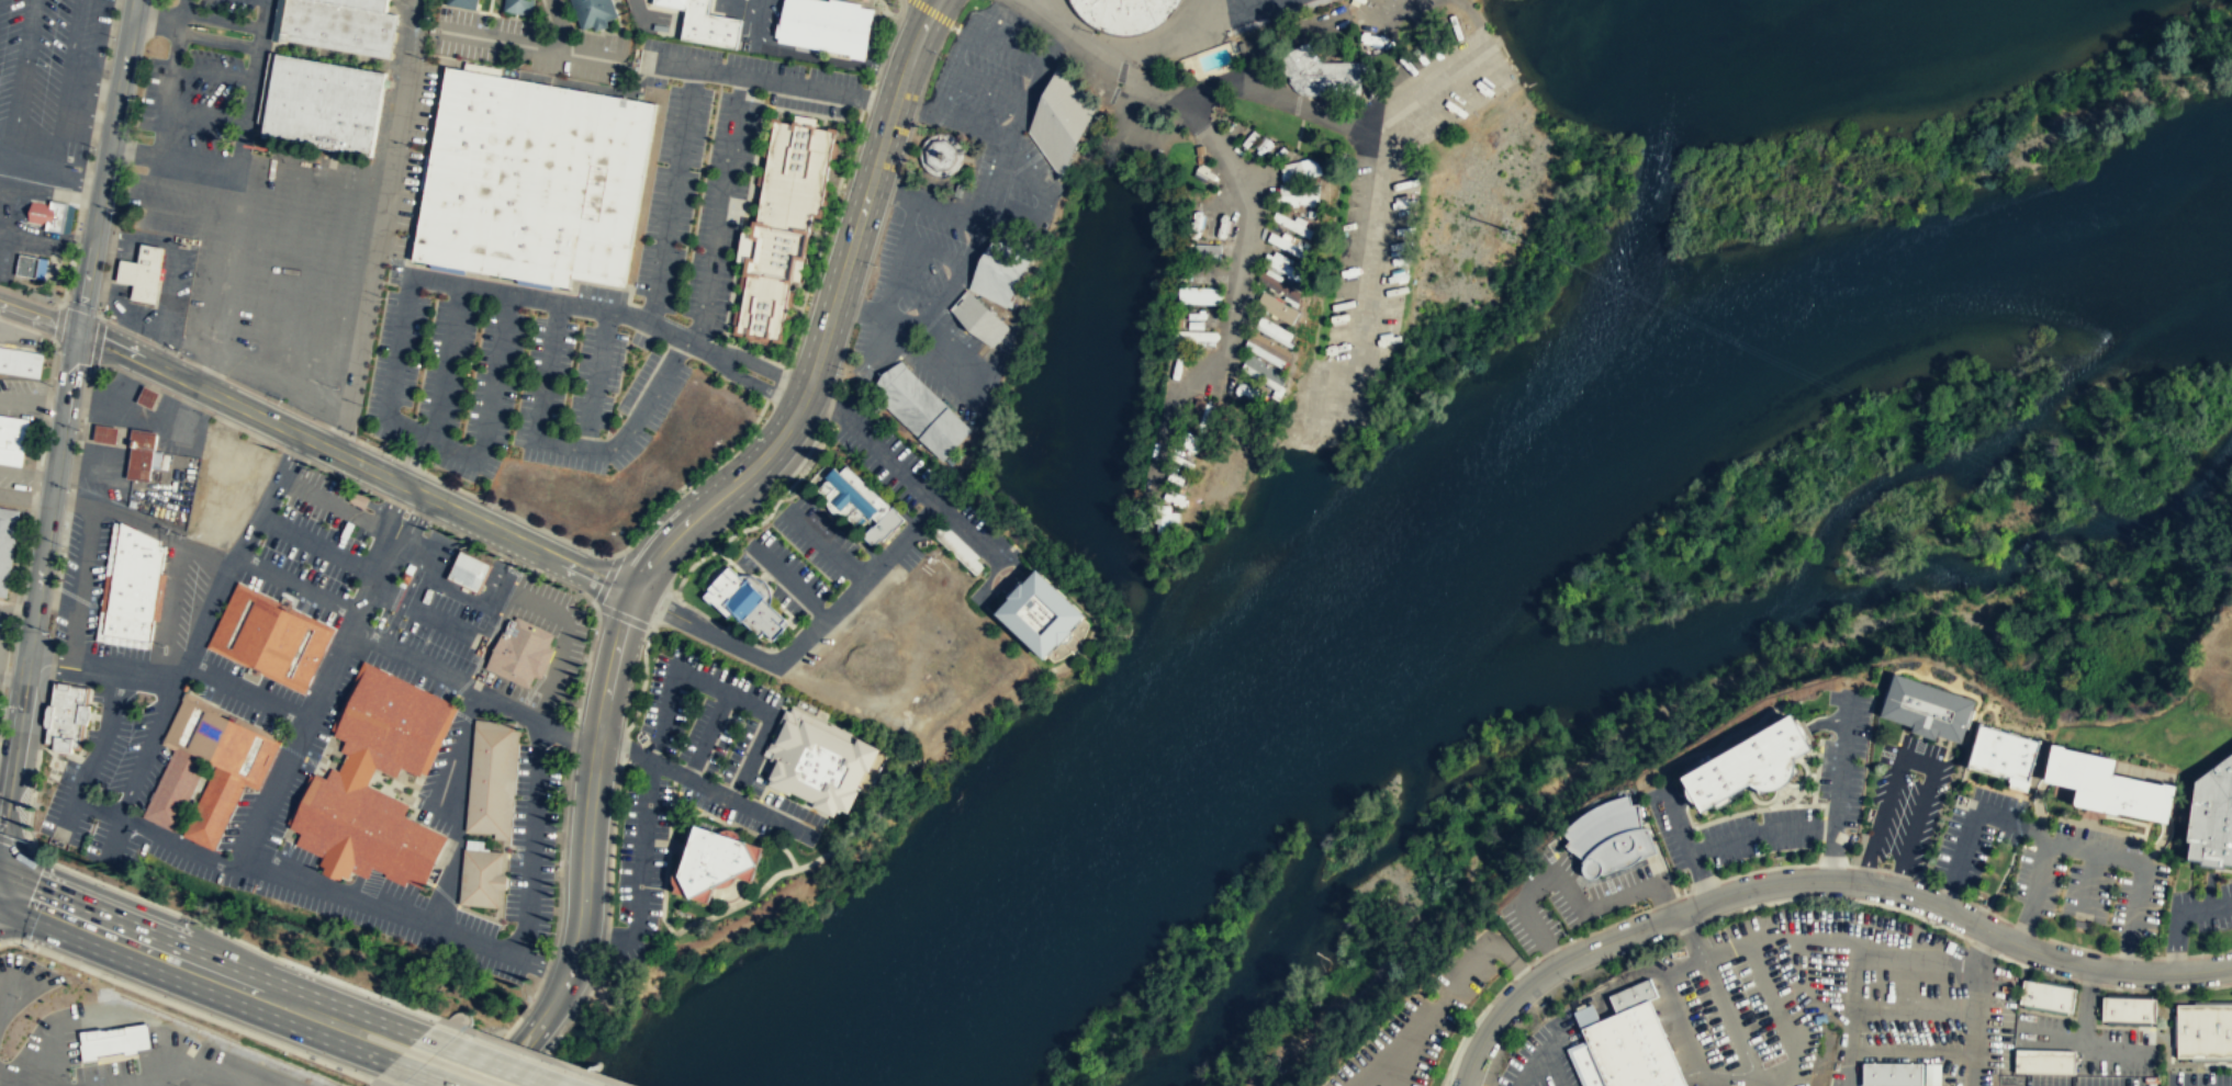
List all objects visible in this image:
road: (862, 1)
building: (462, 2)
building: (361, 4)
road: (476, 5)
road: (457, 7)
road: (490, 7)
building: (518, 7)
road: (546, 11)
building: (593, 11)
road: (482, 12)
road: (930, 13)
building: (1123, 13)
road: (199, 14)
road: (518, 18)
building: (706, 23)
road: (560, 25)
road: (560, 25)
building: (828, 25)
building: (339, 27)
road: (894, 27)
road: (1014, 27)
road: (178, 30)
road: (592, 31)
road: (618, 34)
street lamp: (112, 36)
road: (194, 36)
road: (527, 46)
road: (300, 56)
street lamp: (722, 59)
road: (879, 65)
road: (270, 66)
road: (696, 68)
road: (24, 71)
road: (213, 73)
road: (67, 75)
street lamp: (805, 75)
building: (1321, 76)
road: (871, 80)
road: (254, 84)
parking lot: (49, 86)
street lamp: (650, 89)
parking lot: (203, 90)
road: (865, 99)
street lamp: (133, 101)
road: (872, 101)
building: (324, 103)
road: (166, 106)
road: (205, 114)
road: (860, 116)
building: (1061, 121)
road: (1030, 122)
road: (7, 140)
building: (1246, 142)
road: (34, 146)
street lamp: (93, 146)
road: (134, 151)
street lamp: (705, 155)
building: (941, 156)
road: (729, 158)
road: (54, 162)
road: (197, 162)
road: (1025, 162)
road: (106, 165)
road: (1000, 169)
road: (750, 177)
road: (77, 180)
building: (532, 180)
building: (1299, 183)
road: (673, 196)
road: (1002, 204)
street lamp: (115, 212)
building: (48, 214)
building: (783, 222)
building: (1292, 225)
parking lot: (22, 226)
road: (378, 227)
power tower: (1510, 230)
road: (112, 241)
road: (819, 242)
building: (1287, 246)
building: (1207, 251)
street lamp: (687, 256)
street lamp: (874, 263)
road: (427, 265)
building: (25, 267)
building: (1286, 268)
building: (1001, 269)
building: (142, 272)
road: (974, 273)
building: (1280, 289)
road: (484, 290)
road: (103, 294)
building: (1199, 295)
road: (593, 306)
road: (81, 308)
street lamp: (99, 308)
building: (1276, 308)
road: (38, 315)
building: (1199, 317)
building: (979, 319)
road: (673, 323)
road: (828, 323)
road: (124, 328)
building: (1274, 332)
road: (670, 333)
road: (919, 335)
road: (144, 338)
building: (1192, 339)
road: (761, 342)
road: (165, 348)
road: (747, 348)
street lamp: (181, 350)
building: (1267, 350)
road: (188, 359)
building: (20, 362)
road: (446, 362)
building: (1175, 366)
road: (98, 367)
road: (763, 367)
road: (212, 370)
road: (127, 374)
street lamp: (419, 374)
street lamp: (843, 374)
building: (1266, 375)
road: (596, 378)
road: (838, 382)
road: (773, 383)
road: (755, 385)
street lamp: (337, 387)
road: (159, 388)
building: (152, 397)
street lamp: (282, 398)
road: (87, 400)
road: (277, 401)
road: (190, 404)
road: (830, 407)
building: (922, 409)
road: (242, 429)
road: (340, 431)
street lamp: (356, 432)
building: (105, 434)
road: (81, 435)
building: (12, 439)
road: (441, 444)
road: (569, 444)
road: (373, 448)
building: (141, 453)
street lamp: (394, 453)
road: (293, 454)
road: (413, 459)
road: (355, 461)
road: (407, 464)
road: (899, 467)
road: (76, 468)
road: (693, 477)
road: (344, 478)
road: (72, 488)
parking lot: (923, 490)
street lamp: (683, 491)
road: (70, 501)
building: (860, 501)
street lamp: (496, 502)
road: (338, 506)
street lamp: (764, 506)
road: (405, 508)
road: (823, 508)
road: (519, 517)
road: (765, 518)
street lamp: (428, 523)
river: (1453, 531)
road: (470, 539)
building: (7, 543)
road: (823, 543)
road: (318, 544)
building: (957, 546)
parking lot: (957, 546)
road: (64, 548)
road: (244, 548)
street lamp: (592, 548)
road: (986, 548)
road: (1009, 550)
road: (1001, 557)
road: (511, 564)
street lamp: (523, 568)
flagpole: (15, 569)
building: (469, 570)
road: (771, 570)
building: (406, 576)
road: (1018, 577)
road: (37, 578)
road: (556, 578)
road: (607, 578)
road: (762, 579)
road: (786, 579)
road: (1007, 580)
building: (134, 584)
road: (299, 586)
road: (756, 586)
road: (80, 599)
road: (103, 602)
building: (744, 603)
road: (361, 606)
road: (663, 610)
building: (1038, 613)
road: (624, 616)
road: (730, 622)
street lamp: (591, 626)
road: (720, 627)
street lamp: (47, 631)
building: (270, 636)
road: (490, 636)
road: (209, 645)
building: (519, 651)
road: (772, 663)
road: (1061, 665)
road: (70, 667)
road: (447, 674)
road: (11, 679)
road: (145, 680)
road: (643, 680)
road: (724, 690)
road: (247, 691)
road: (452, 705)
road: (343, 710)
building: (1926, 710)
road: (664, 713)
building: (65, 714)
road: (464, 716)
building: (390, 724)
street lamp: (571, 725)
road: (707, 734)
road: (166, 735)
road: (568, 735)
road: (152, 737)
road: (435, 746)
road: (623, 746)
road: (296, 754)
road: (643, 756)
road: (752, 756)
building: (2007, 756)
road: (93, 757)
road: (1841, 759)
building: (823, 761)
road: (1915, 761)
building: (1747, 767)
building: (356, 769)
building: (236, 772)
building: (491, 778)
road: (1973, 781)
building: (2105, 783)
road: (394, 784)
road: (274, 792)
road: (784, 794)
road: (390, 795)
road: (469, 796)
road: (413, 801)
road: (749, 805)
road: (687, 806)
road: (458, 807)
road: (588, 807)
road: (227, 813)
road: (192, 814)
building: (2211, 815)
road: (1678, 817)
road: (671, 821)
road: (2016, 821)
road: (1972, 822)
road: (507, 826)
street lamp: (558, 828)
building: (364, 829)
road: (177, 830)
road: (1760, 830)
building: (1609, 839)
road: (14, 840)
road: (534, 840)
road: (290, 847)
road: (680, 847)
road: (2095, 851)
road: (642, 852)
road: (787, 852)
road: (1831, 853)
road: (284, 860)
building: (714, 863)
parking lot: (2212, 867)
road: (610, 870)
road: (1701, 876)
building: (481, 878)
road: (2001, 878)
road: (2230, 879)
road: (1562, 880)
road: (1817, 880)
road: (323, 881)
road: (767, 881)
road: (430, 883)
road: (2089, 884)
road: (718, 885)
road: (2209, 886)
road: (664, 890)
road: (730, 892)
road: (446, 895)
road: (1663, 898)
road: (2203, 906)
road: (1985, 908)
road: (2023, 927)
road: (2023, 928)
street lamp: (551, 931)
road: (494, 934)
road: (1696, 935)
road: (601, 937)
road: (2173, 941)
road: (244, 942)
road: (2074, 944)
road: (1866, 946)
road: (1983, 949)
road: (159, 952)
road: (2128, 953)
road: (2209, 953)
road: (2127, 954)
road: (1555, 955)
road: (2151, 957)
road: (2174, 957)
road: (1514, 963)
street lamp: (123, 980)
road: (1771, 997)
building: (2046, 997)
road: (2086, 1005)
road: (1832, 1006)
road: (1437, 1008)
building: (2128, 1008)
road: (192, 1011)
road: (573, 1016)
road: (1729, 1017)
street lamp: (218, 1018)
road: (1976, 1020)
road: (1469, 1026)
building: (2203, 1030)
road: (1685, 1034)
road: (502, 1036)
road: (2051, 1039)
building: (112, 1041)
road: (448, 1042)
road: (2116, 1049)
road: (1548, 1050)
road: (503, 1051)
building: (1627, 1051)
road: (1913, 1051)
street lamp: (314, 1055)
road: (523, 1055)
road: (548, 1057)
road: (385, 1059)
building: (2043, 1061)
road: (1530, 1067)
road: (1849, 1068)
road: (1693, 1073)
building: (1893, 1075)
building: (1932, 1075)
road: (1976, 1081)
road: (1787, 1083)

